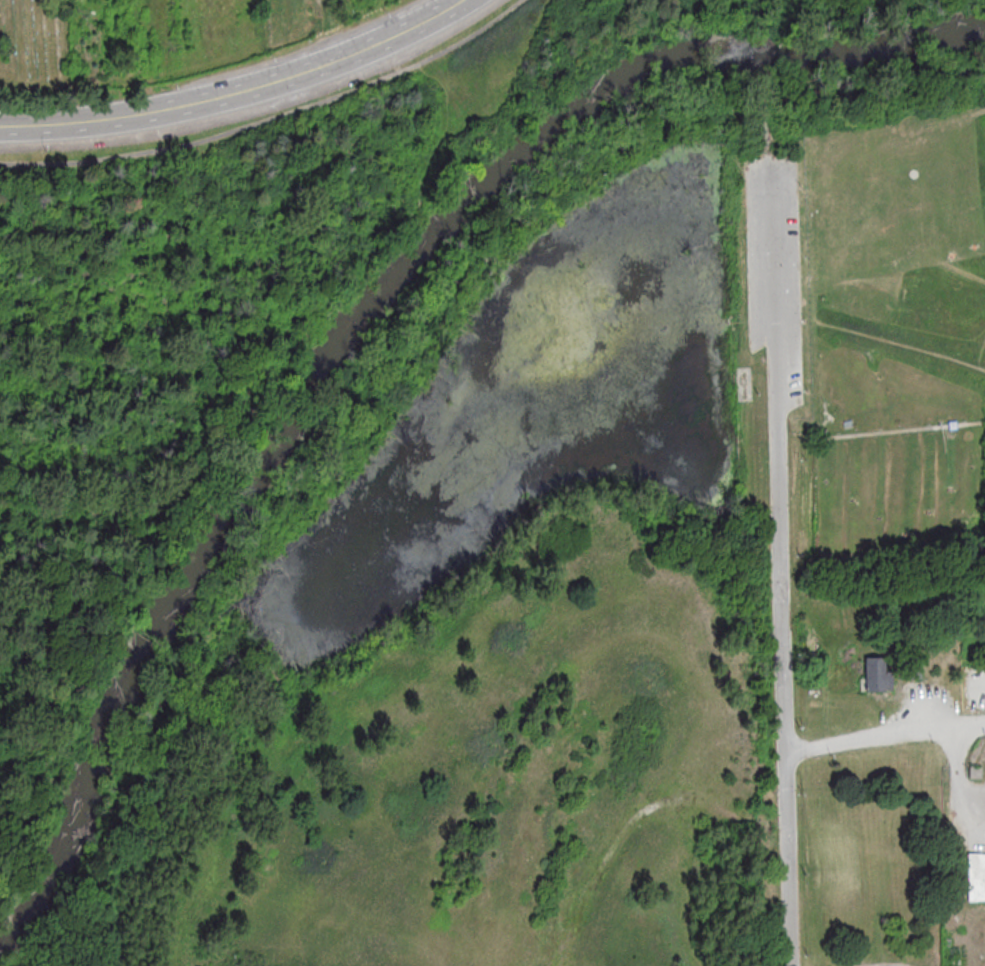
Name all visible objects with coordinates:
road: (759, 7)
road: (237, 90)
road: (271, 117)
road: (947, 130)
road: (934, 262)
road: (963, 272)
parking lot: (774, 273)
river: (359, 318)
road: (901, 345)
road: (799, 426)
road: (898, 431)
park: (492, 483)
park: (897, 493)
road: (778, 562)
building: (912, 667)
building: (873, 674)
parking lot: (971, 684)
parking lot: (923, 703)
road: (884, 734)
road: (957, 769)
road: (714, 808)
building: (975, 876)
road: (894, 965)

